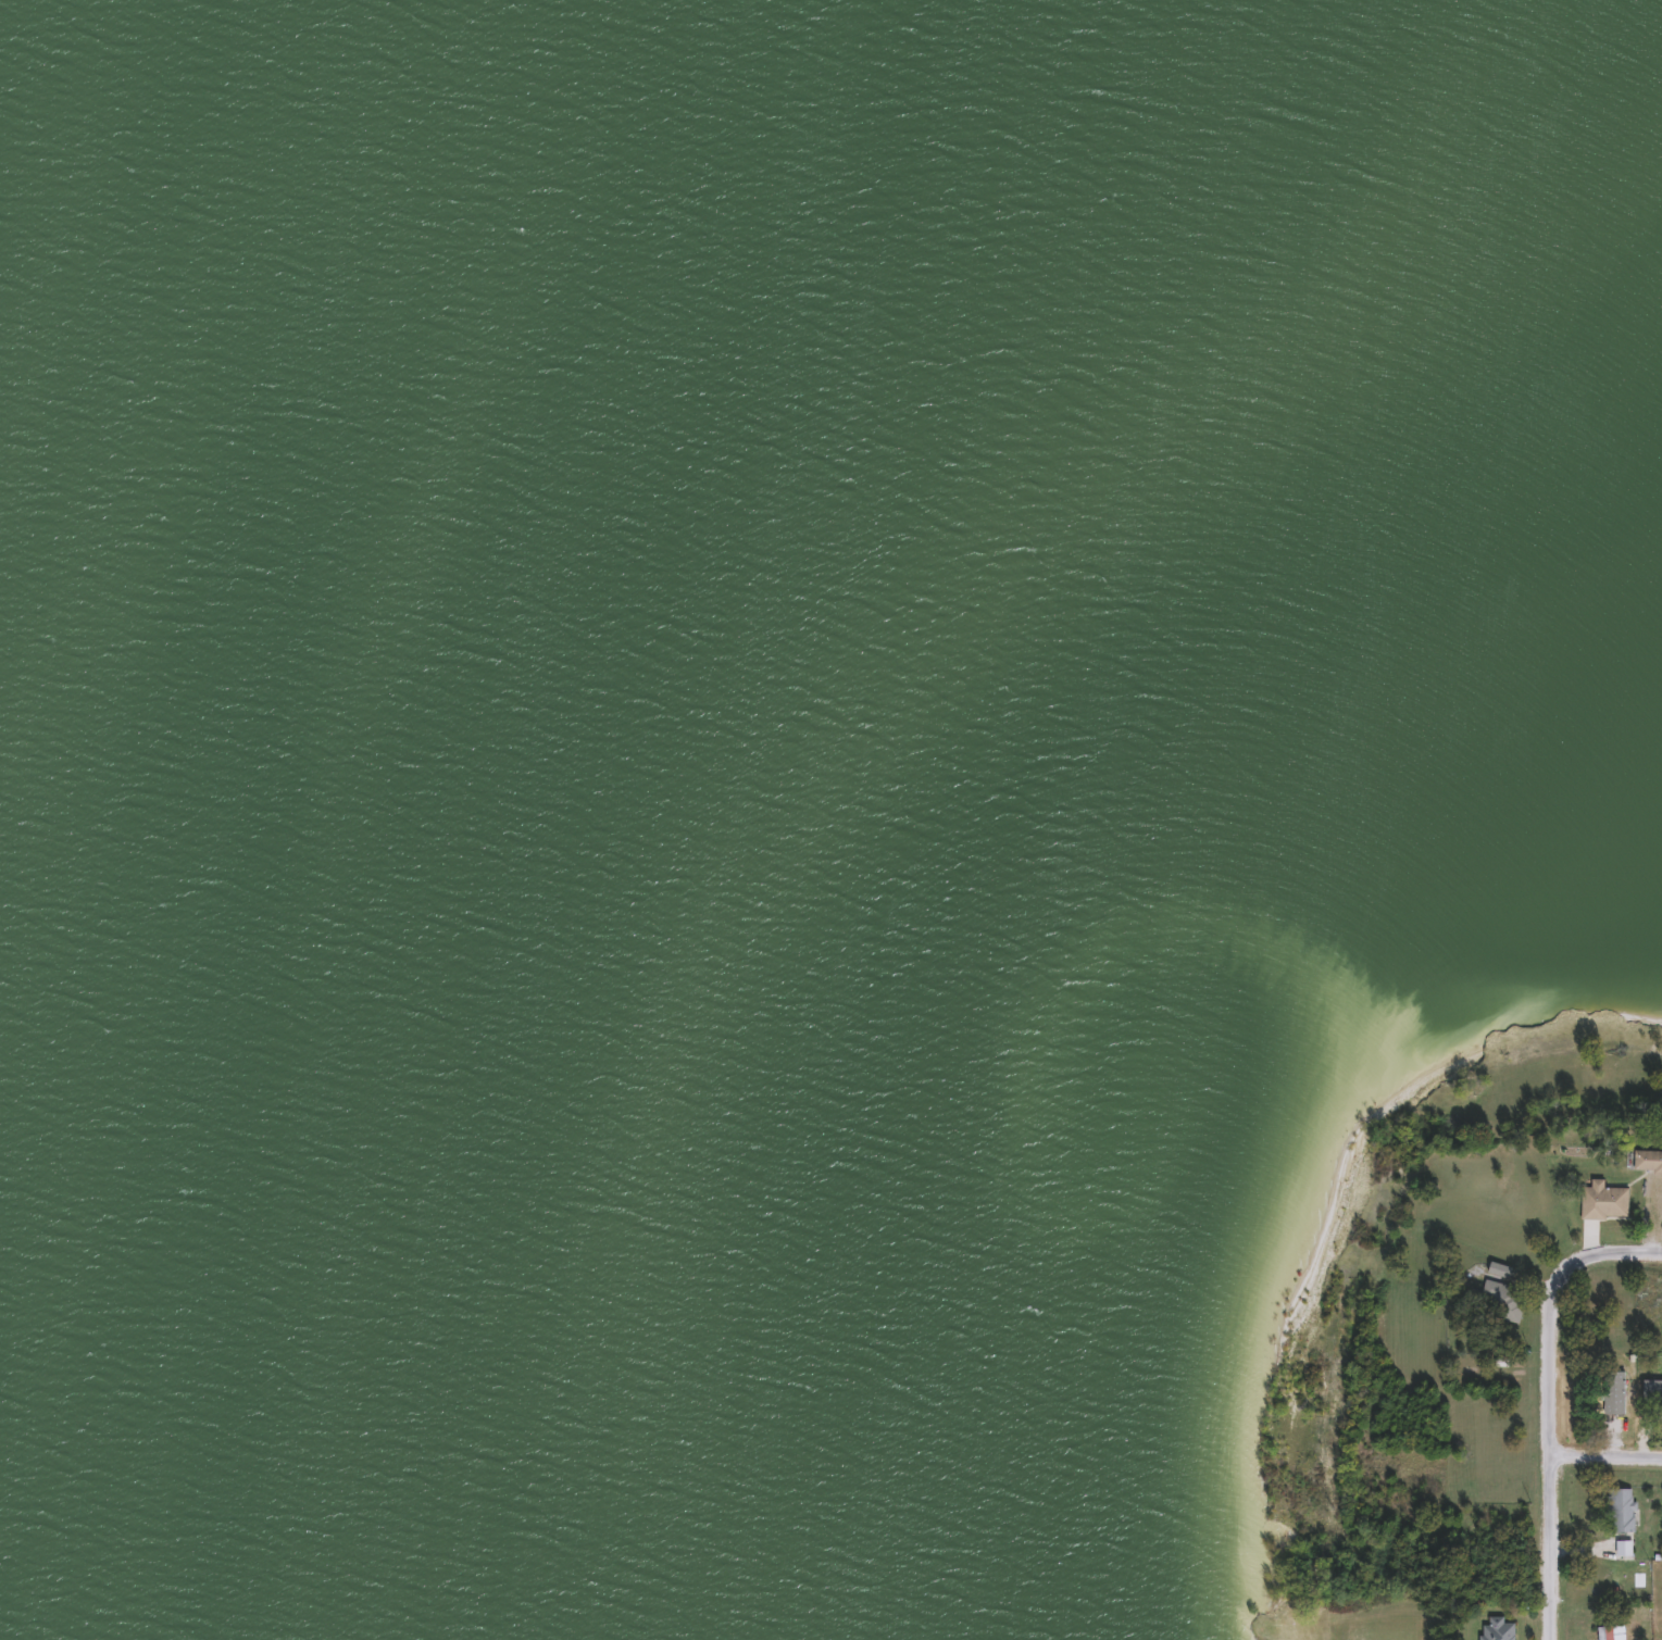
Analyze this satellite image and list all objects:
building: (1646, 1161)
building: (1601, 1202)
building: (1499, 1302)
building: (1617, 1392)
road: (1558, 1405)
road: (1611, 1462)
building: (1617, 1511)
building: (1495, 1629)
building: (1611, 1632)

